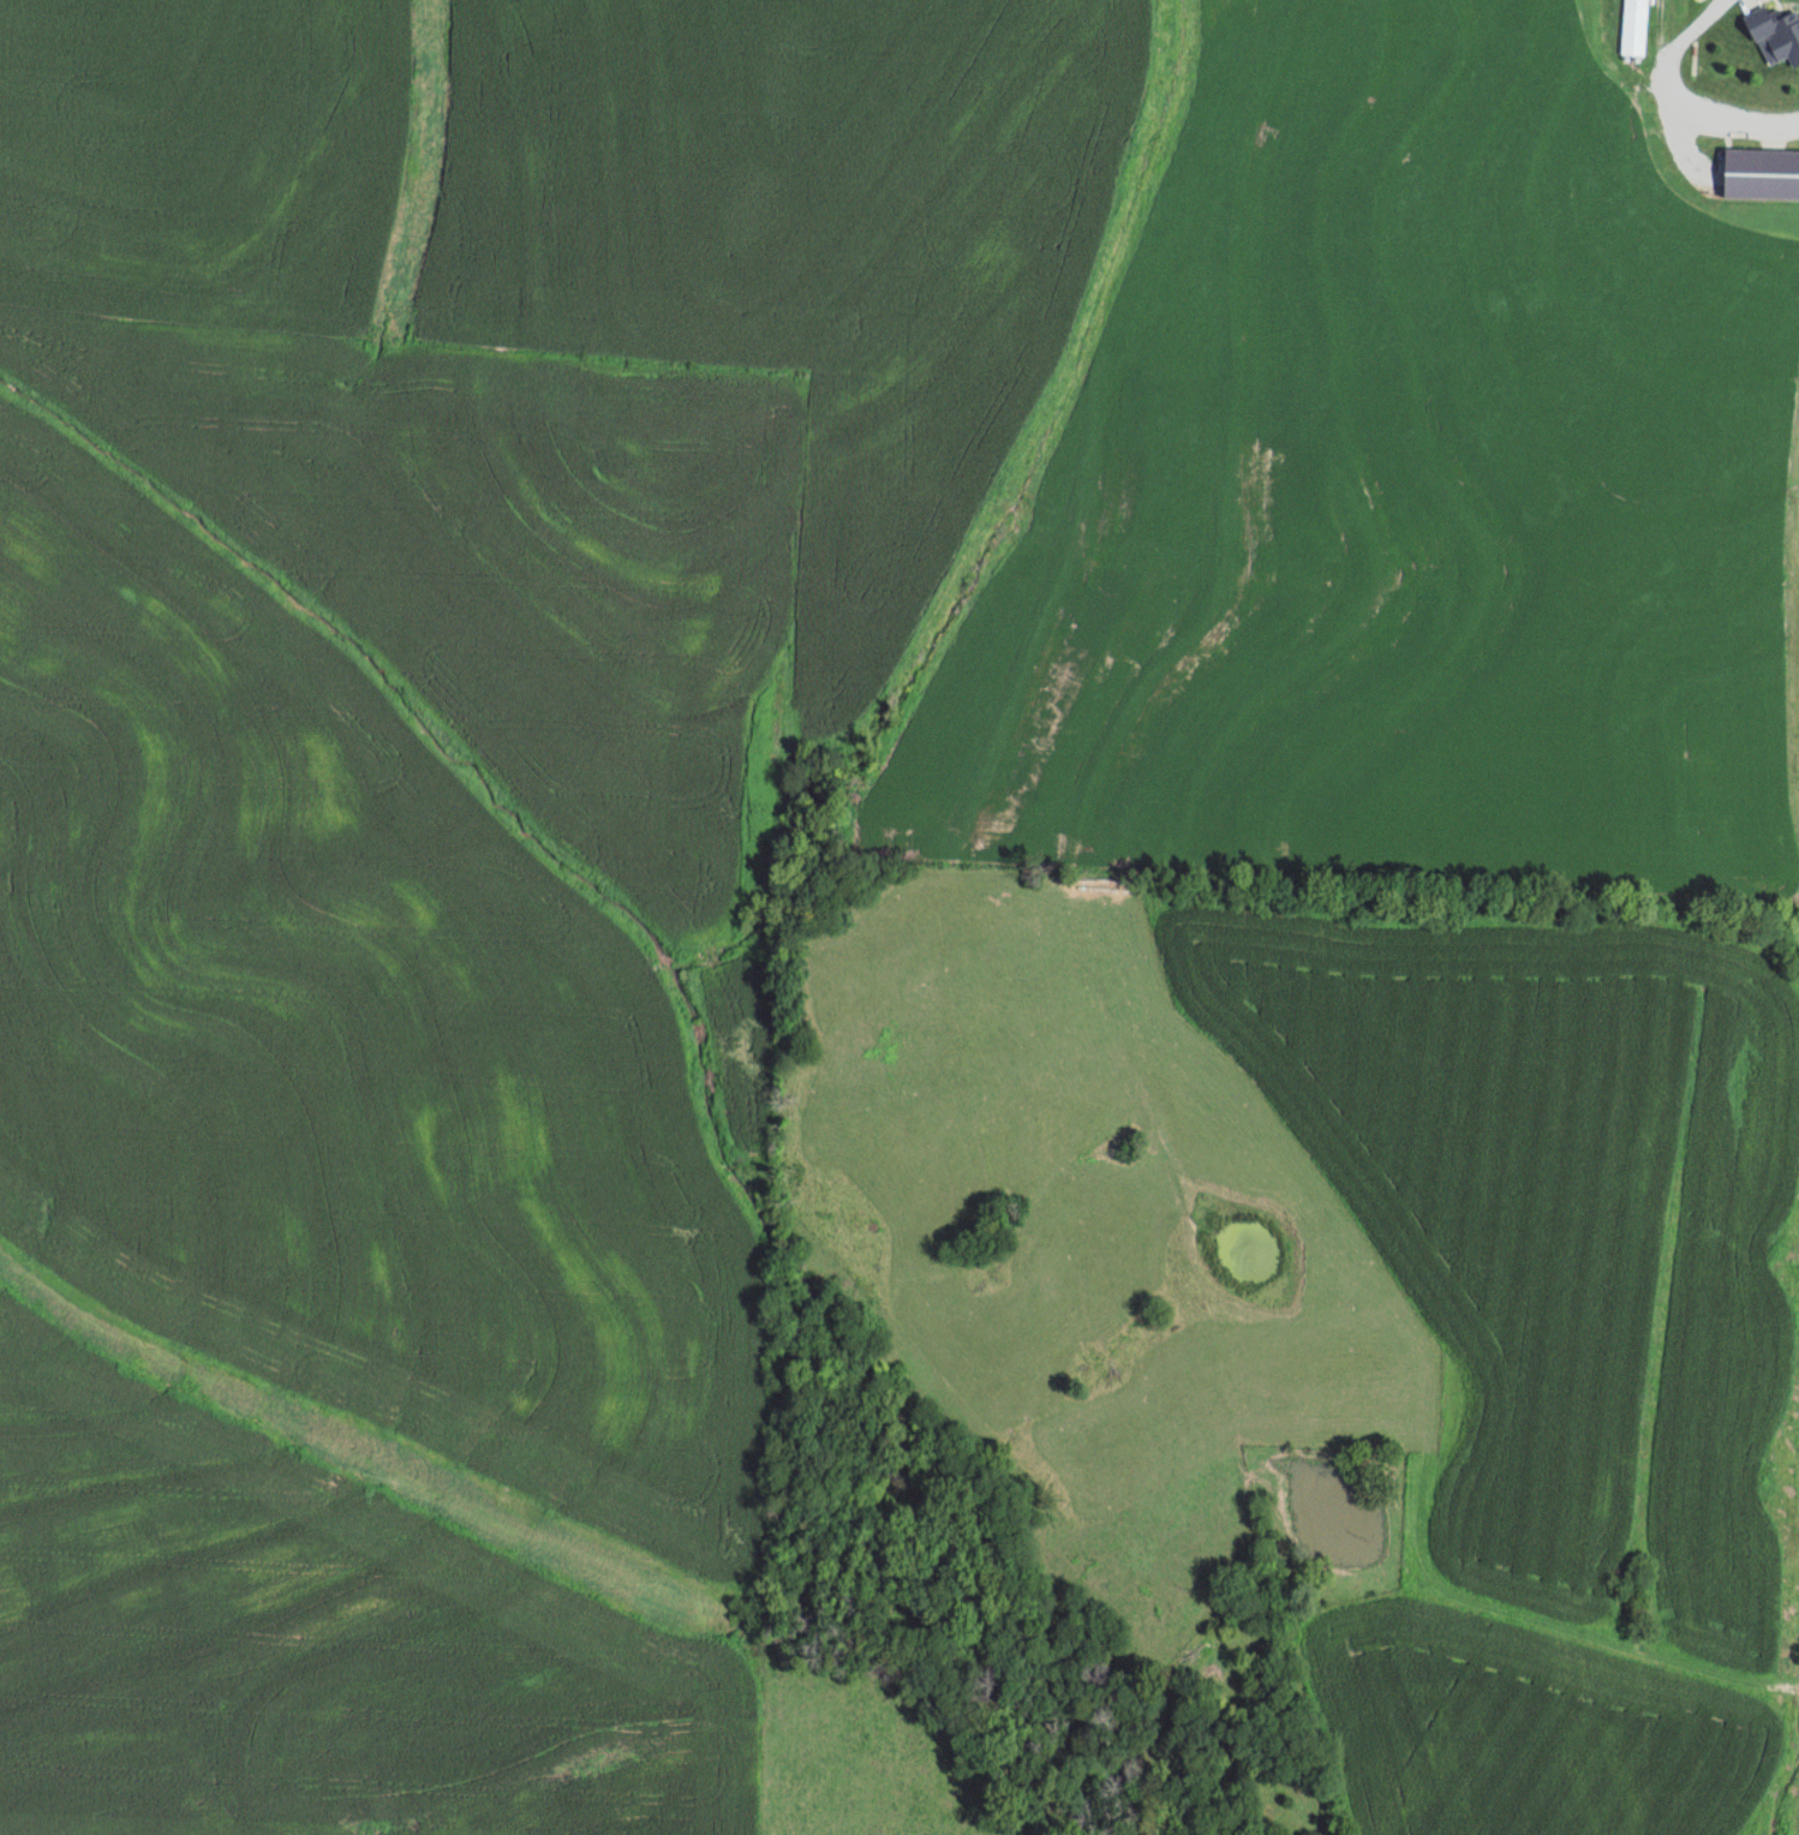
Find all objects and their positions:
building: (1638, 26)
building: (1776, 29)
building: (1765, 174)
road: (1616, 1643)

